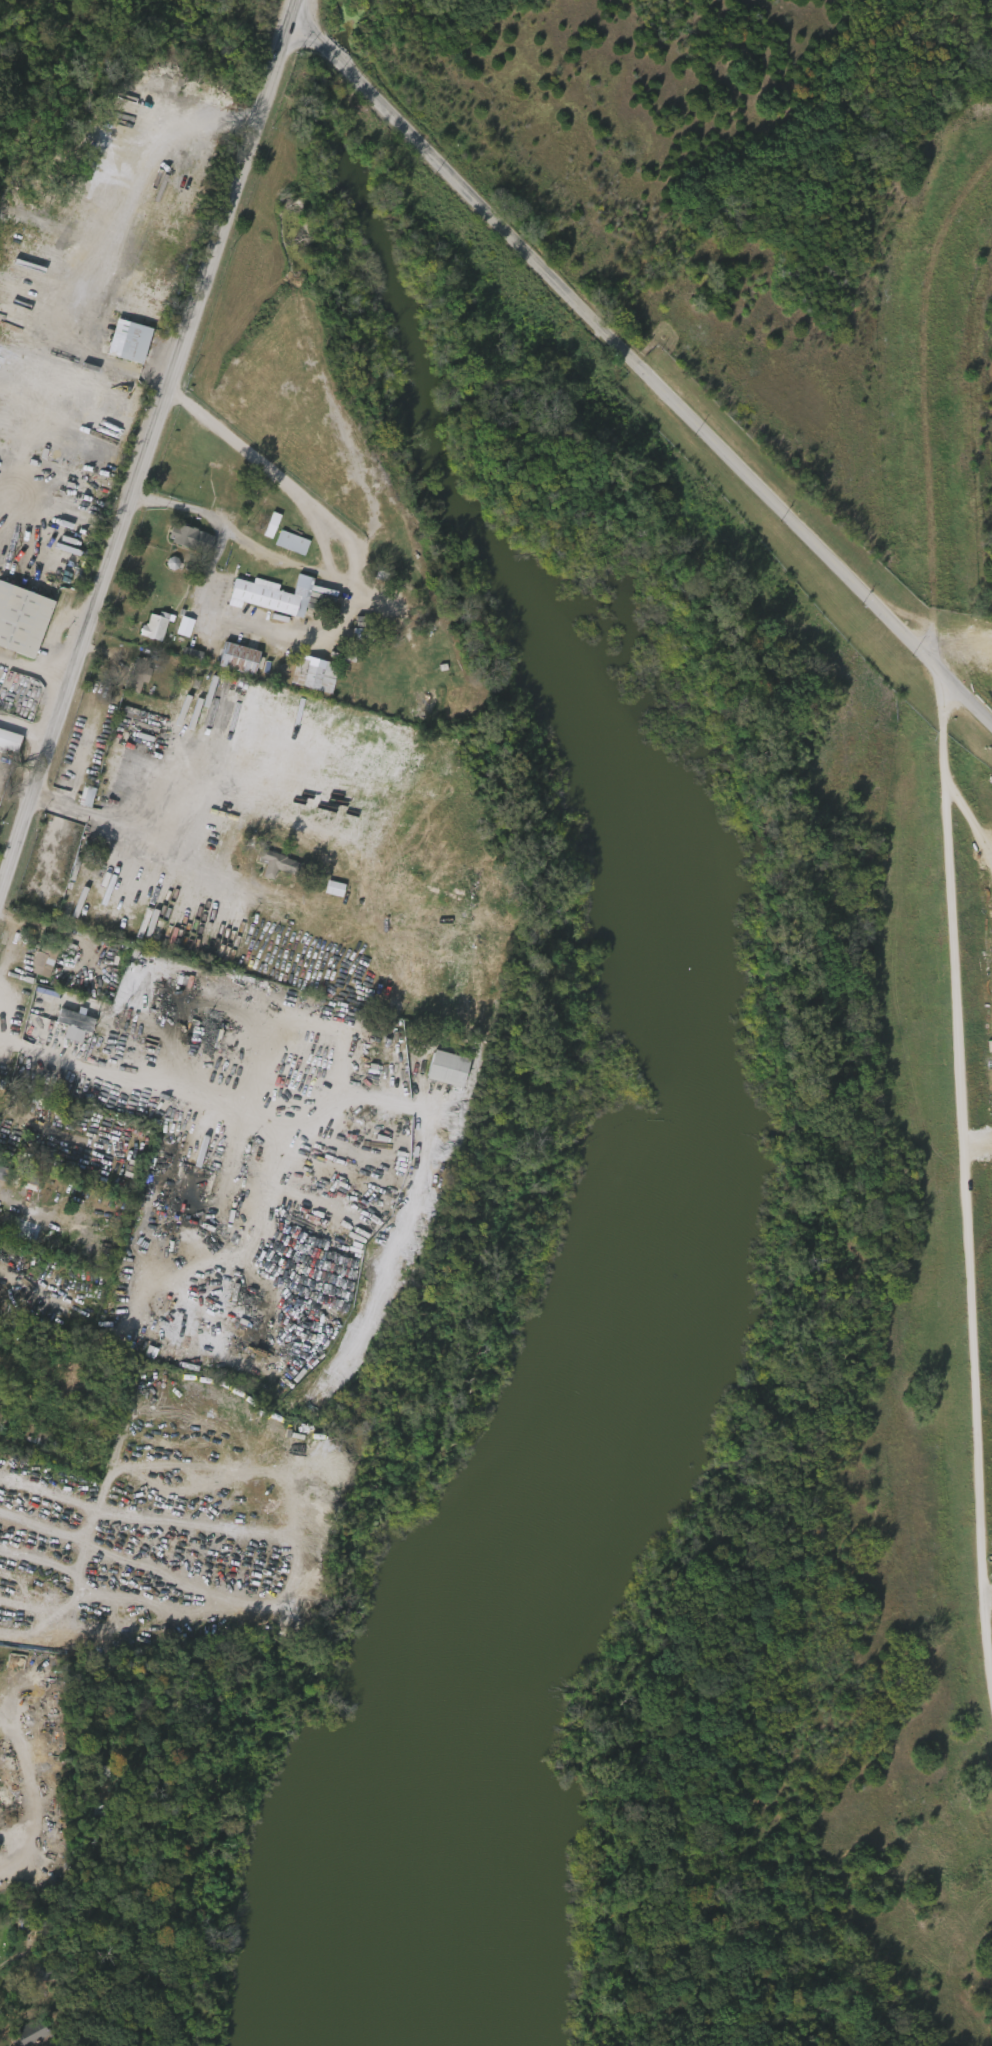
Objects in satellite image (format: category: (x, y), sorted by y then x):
road: (297, 13)
building: (132, 341)
road: (620, 341)
road: (100, 365)
road: (145, 461)
road: (273, 475)
building: (232, 500)
building: (222, 502)
building: (274, 526)
building: (194, 539)
building: (295, 543)
building: (284, 546)
road: (265, 554)
building: (275, 595)
building: (24, 619)
building: (158, 626)
building: (188, 627)
building: (147, 629)
road: (251, 629)
building: (177, 630)
building: (184, 657)
building: (242, 659)
road: (36, 669)
building: (317, 674)
building: (141, 676)
building: (128, 687)
road: (965, 695)
building: (31, 696)
road: (27, 723)
building: (5, 744)
road: (73, 781)
building: (87, 805)
building: (279, 864)
building: (267, 867)
road: (104, 910)
road: (119, 950)
building: (46, 961)
building: (36, 963)
building: (67, 1027)
road: (36, 1051)
building: (451, 1069)
road: (965, 1153)
building: (0, 1171)
road: (115, 1543)
building: (45, 1973)
building: (35, 2035)

